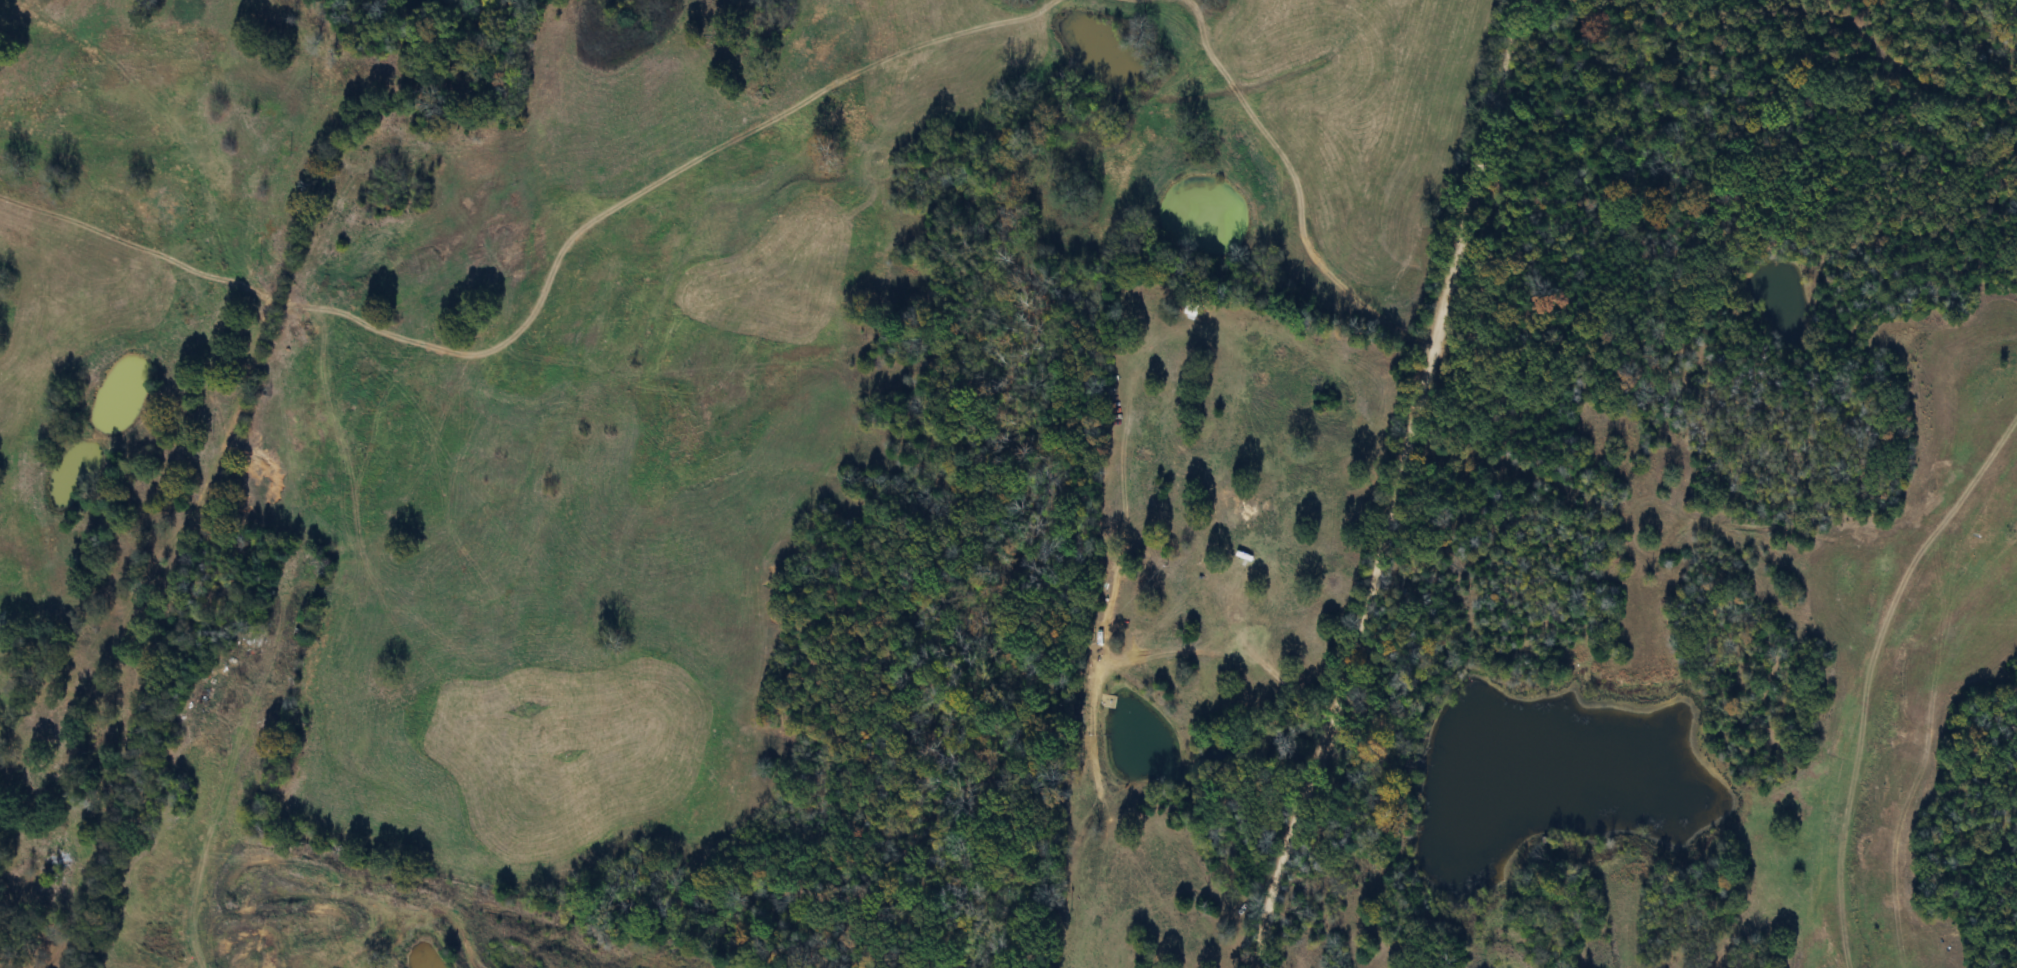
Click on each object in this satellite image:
road: (1395, 484)

